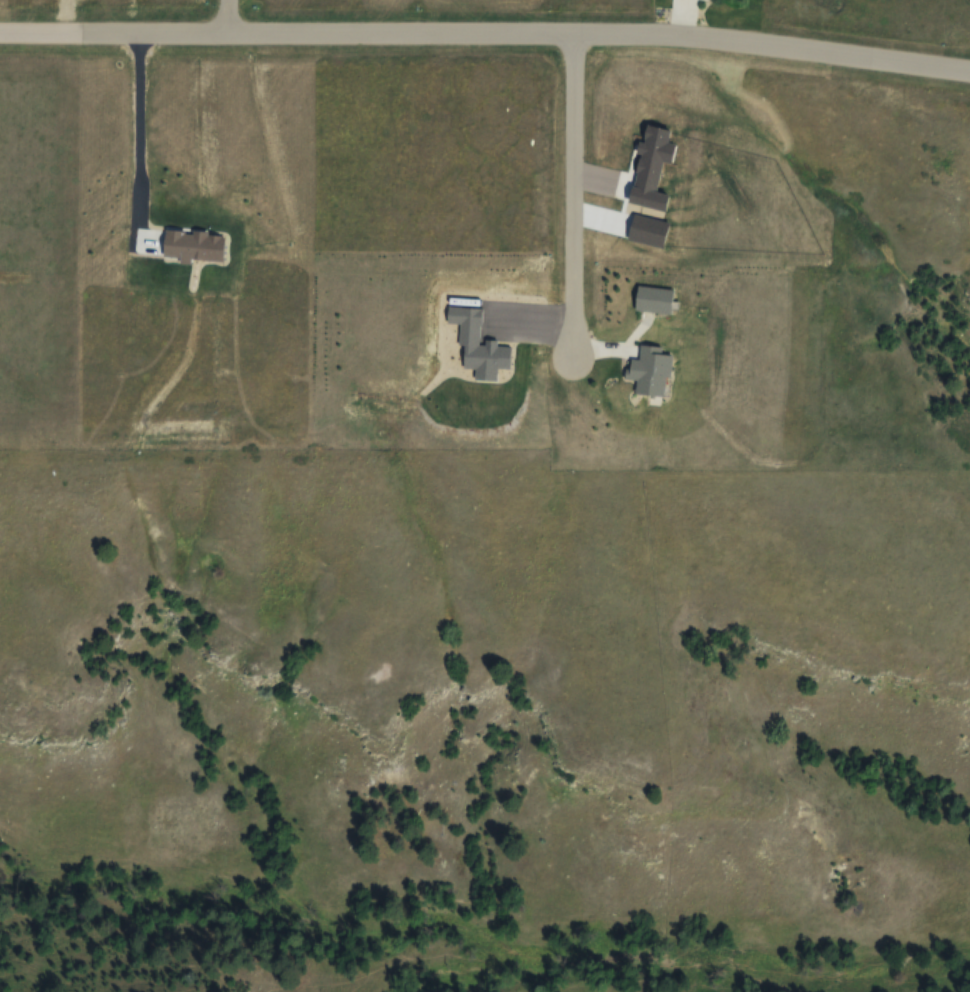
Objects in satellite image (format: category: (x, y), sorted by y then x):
road: (225, 16)
road: (486, 32)
road: (573, 203)
building: (654, 299)
building: (650, 370)

